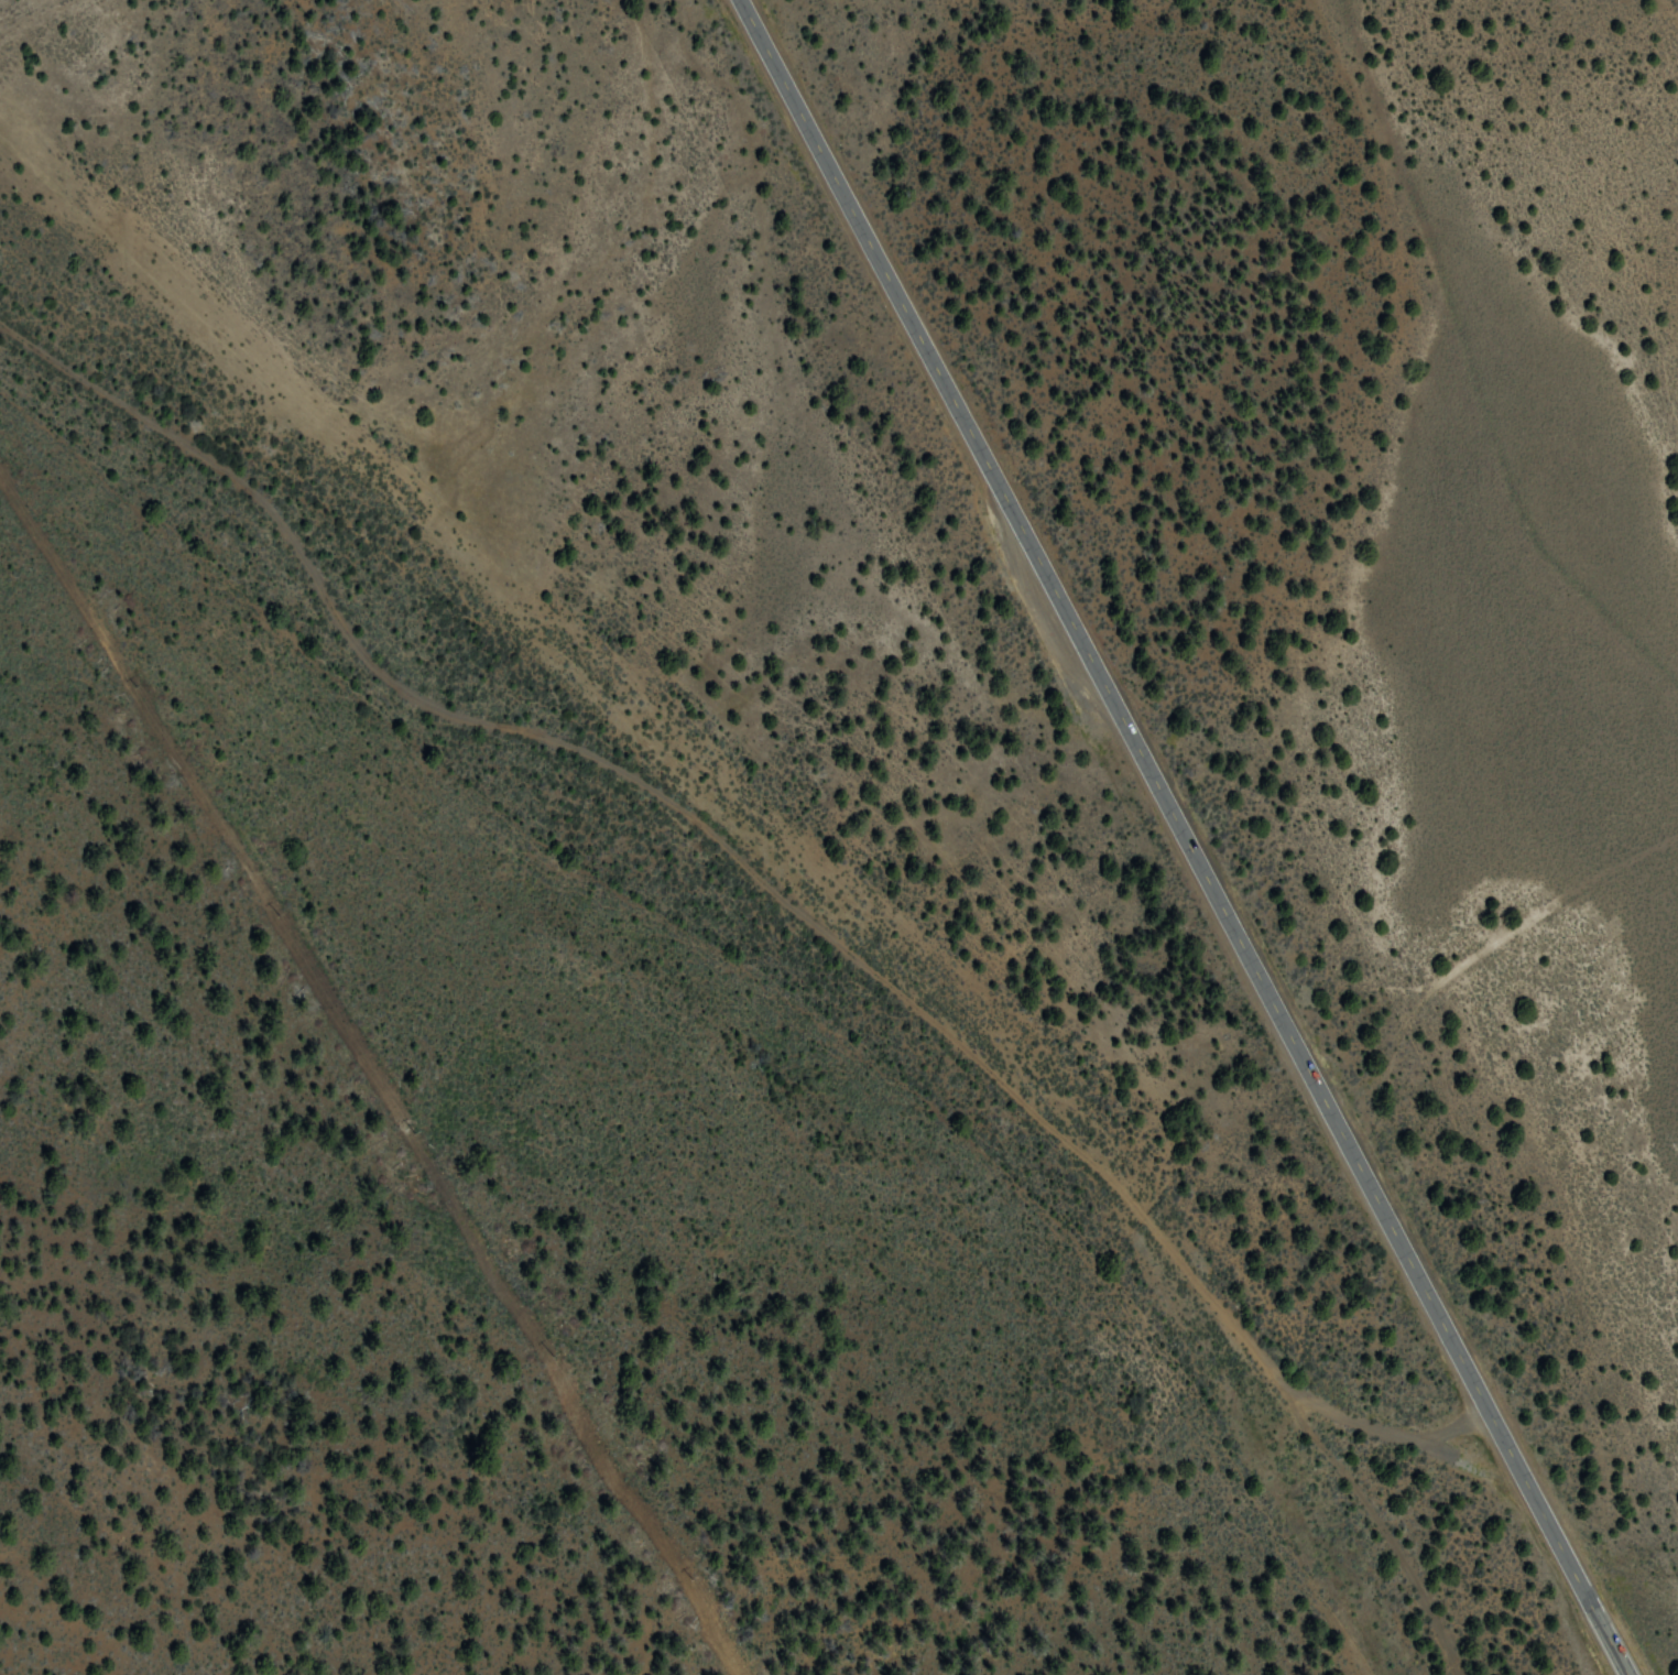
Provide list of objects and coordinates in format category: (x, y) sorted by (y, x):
road: (1671, 7)
road: (1185, 837)
road: (799, 912)
road: (1473, 954)

